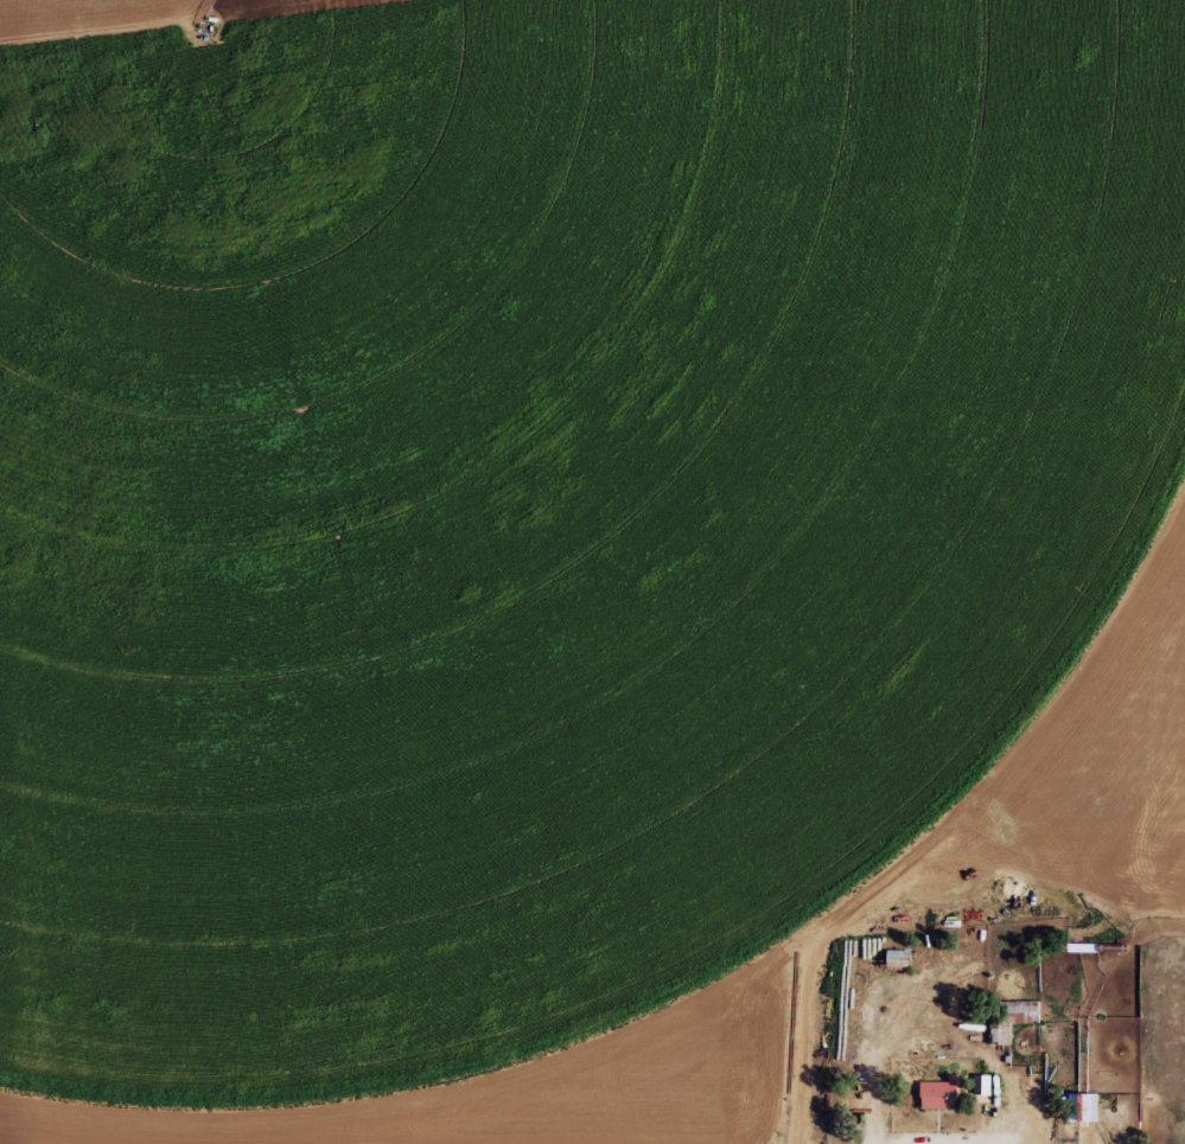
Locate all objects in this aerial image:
road: (63, 571)
road: (866, 1142)

